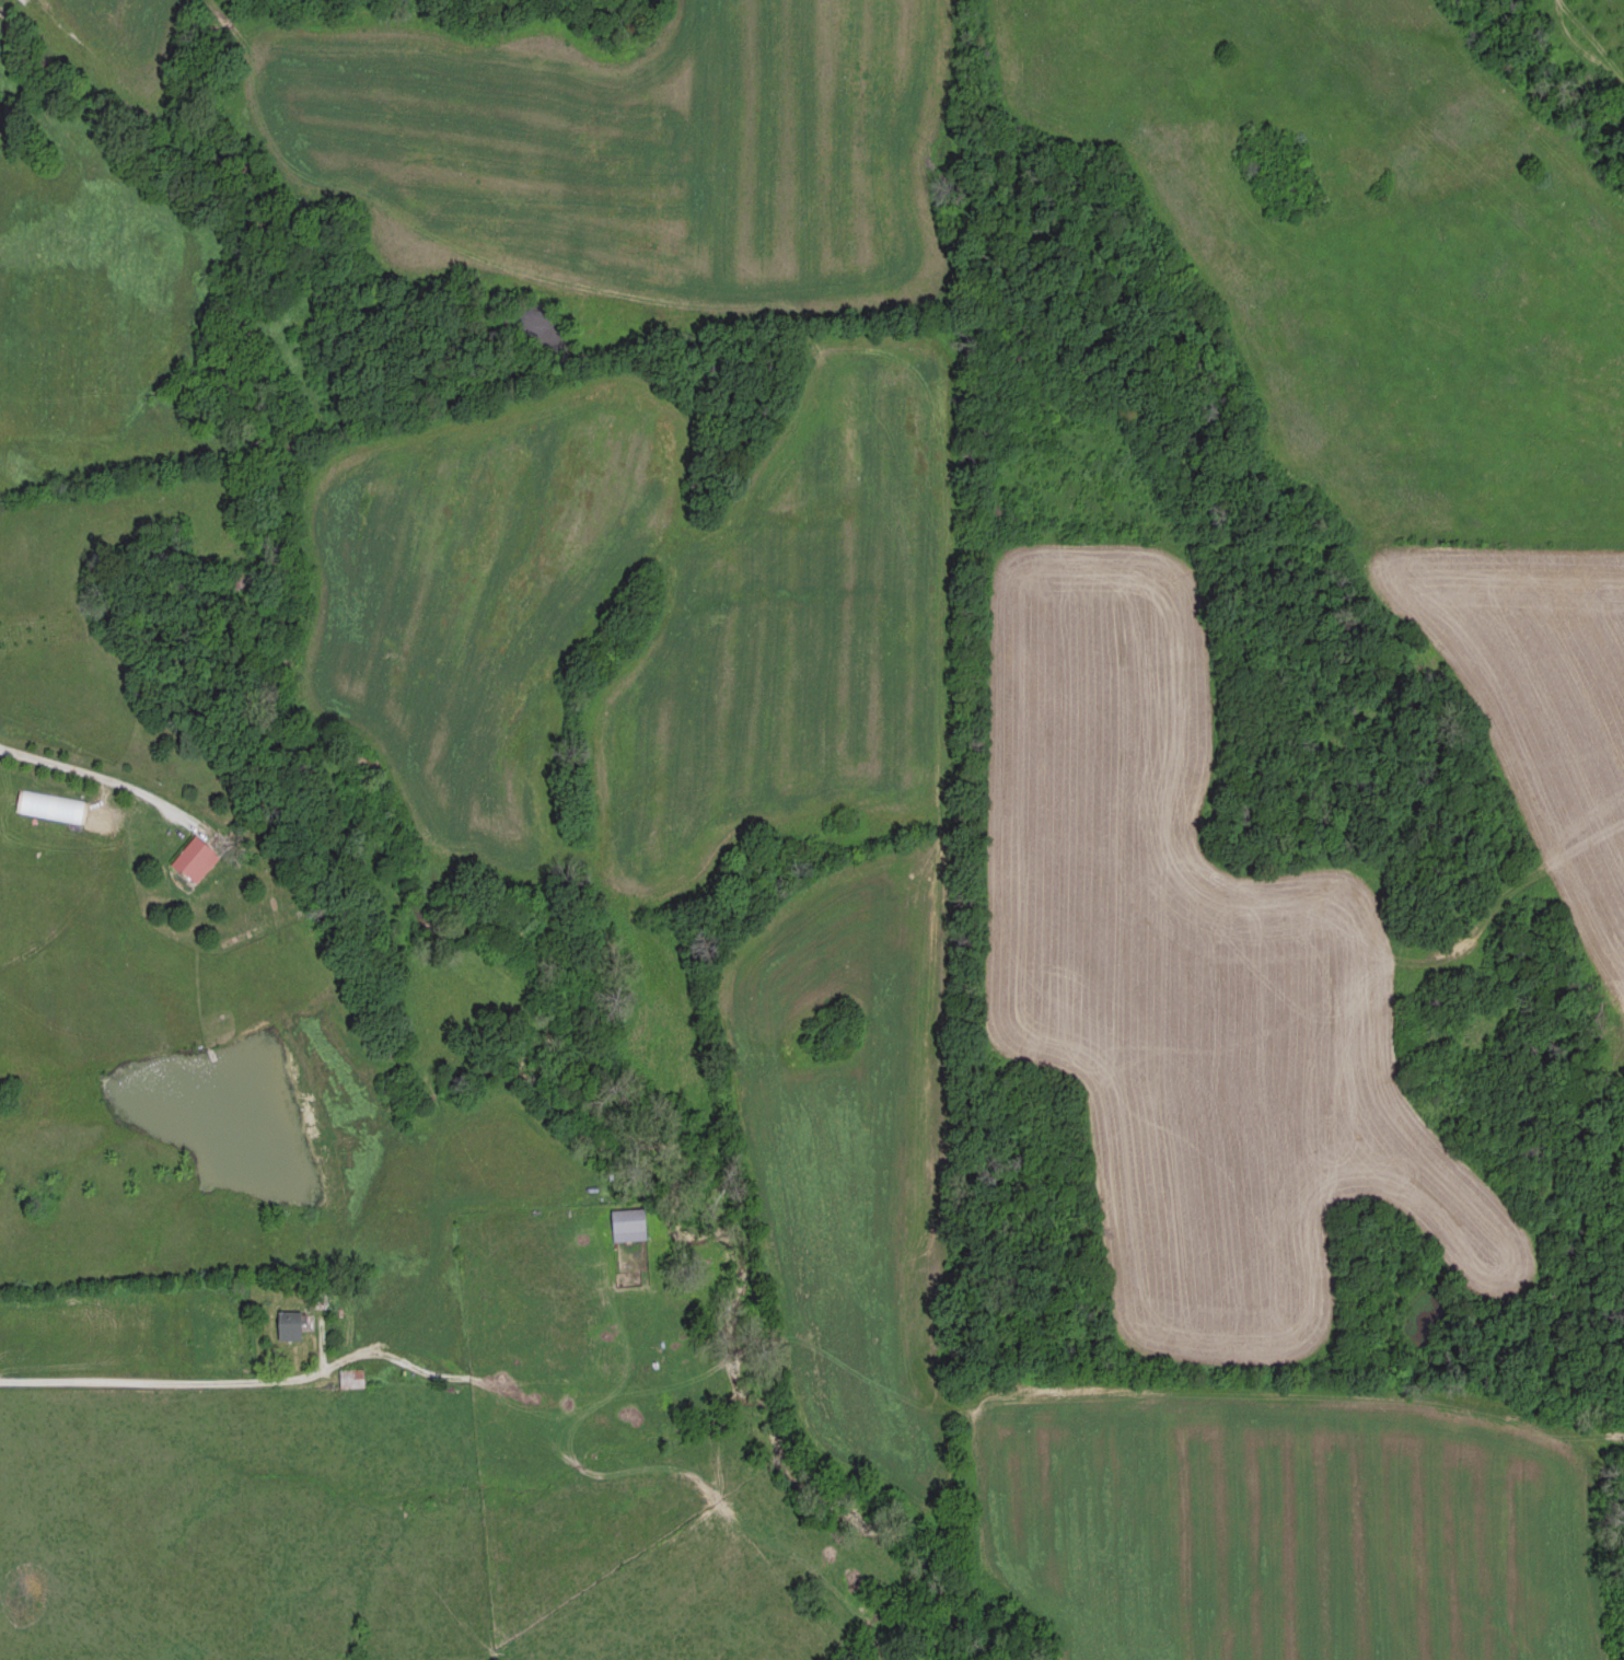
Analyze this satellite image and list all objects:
road: (85, 770)
building: (199, 857)
building: (630, 1222)
building: (293, 1322)
road: (394, 1357)
building: (353, 1374)

